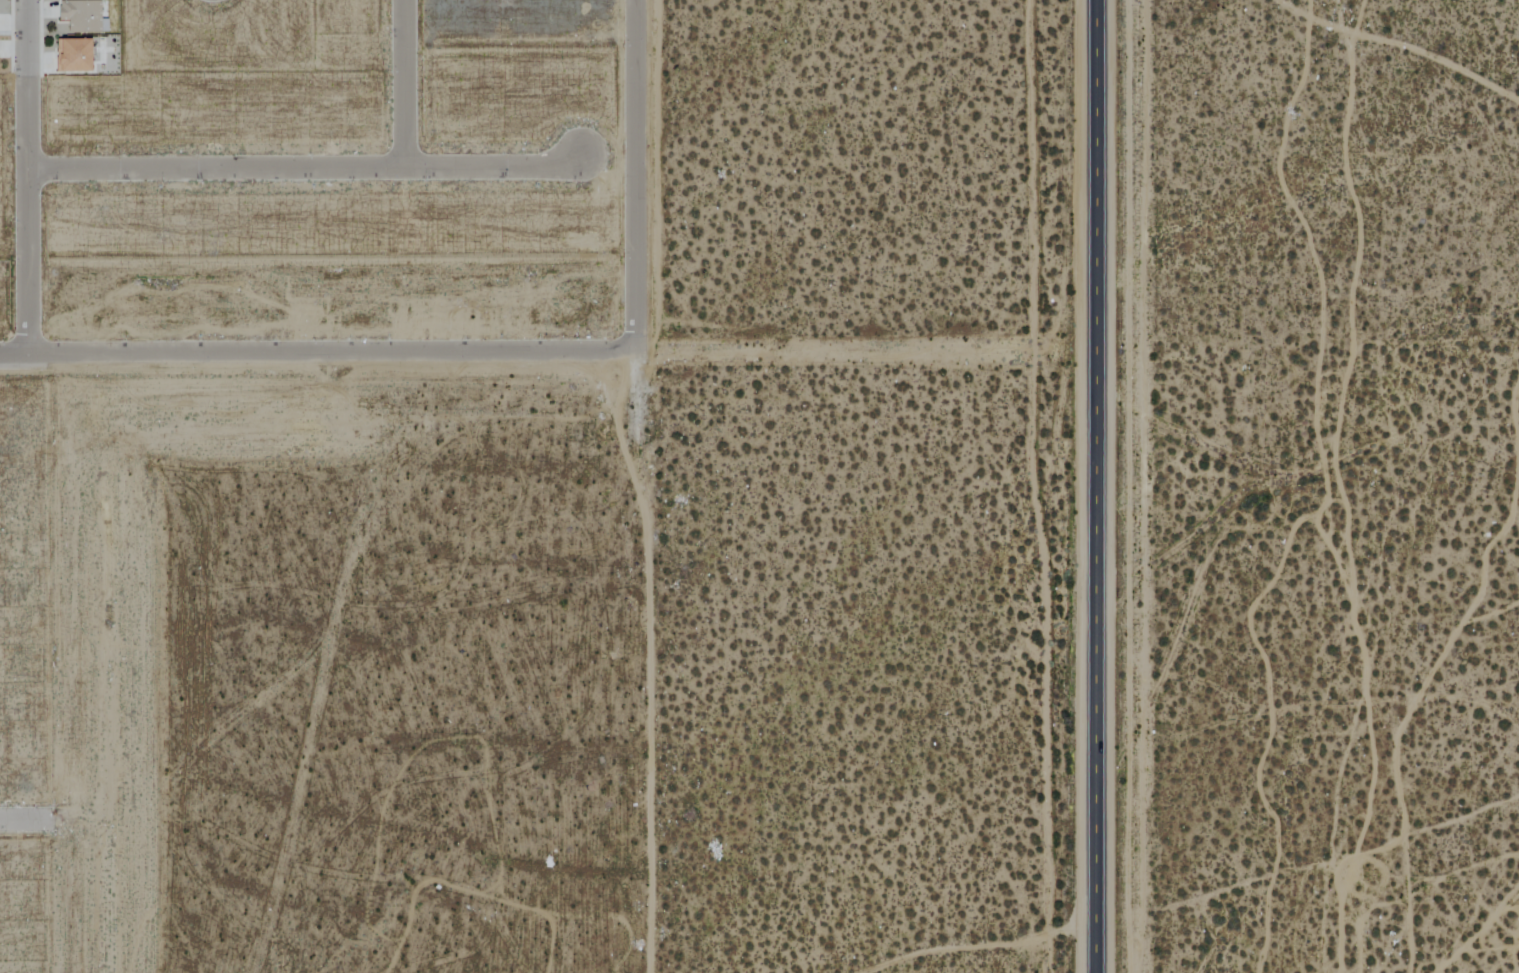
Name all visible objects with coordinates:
building: (71, 55)
road: (405, 85)
road: (308, 170)
road: (637, 173)
road: (29, 176)
road: (314, 351)
road: (1096, 486)
road: (651, 657)
road: (22, 821)

